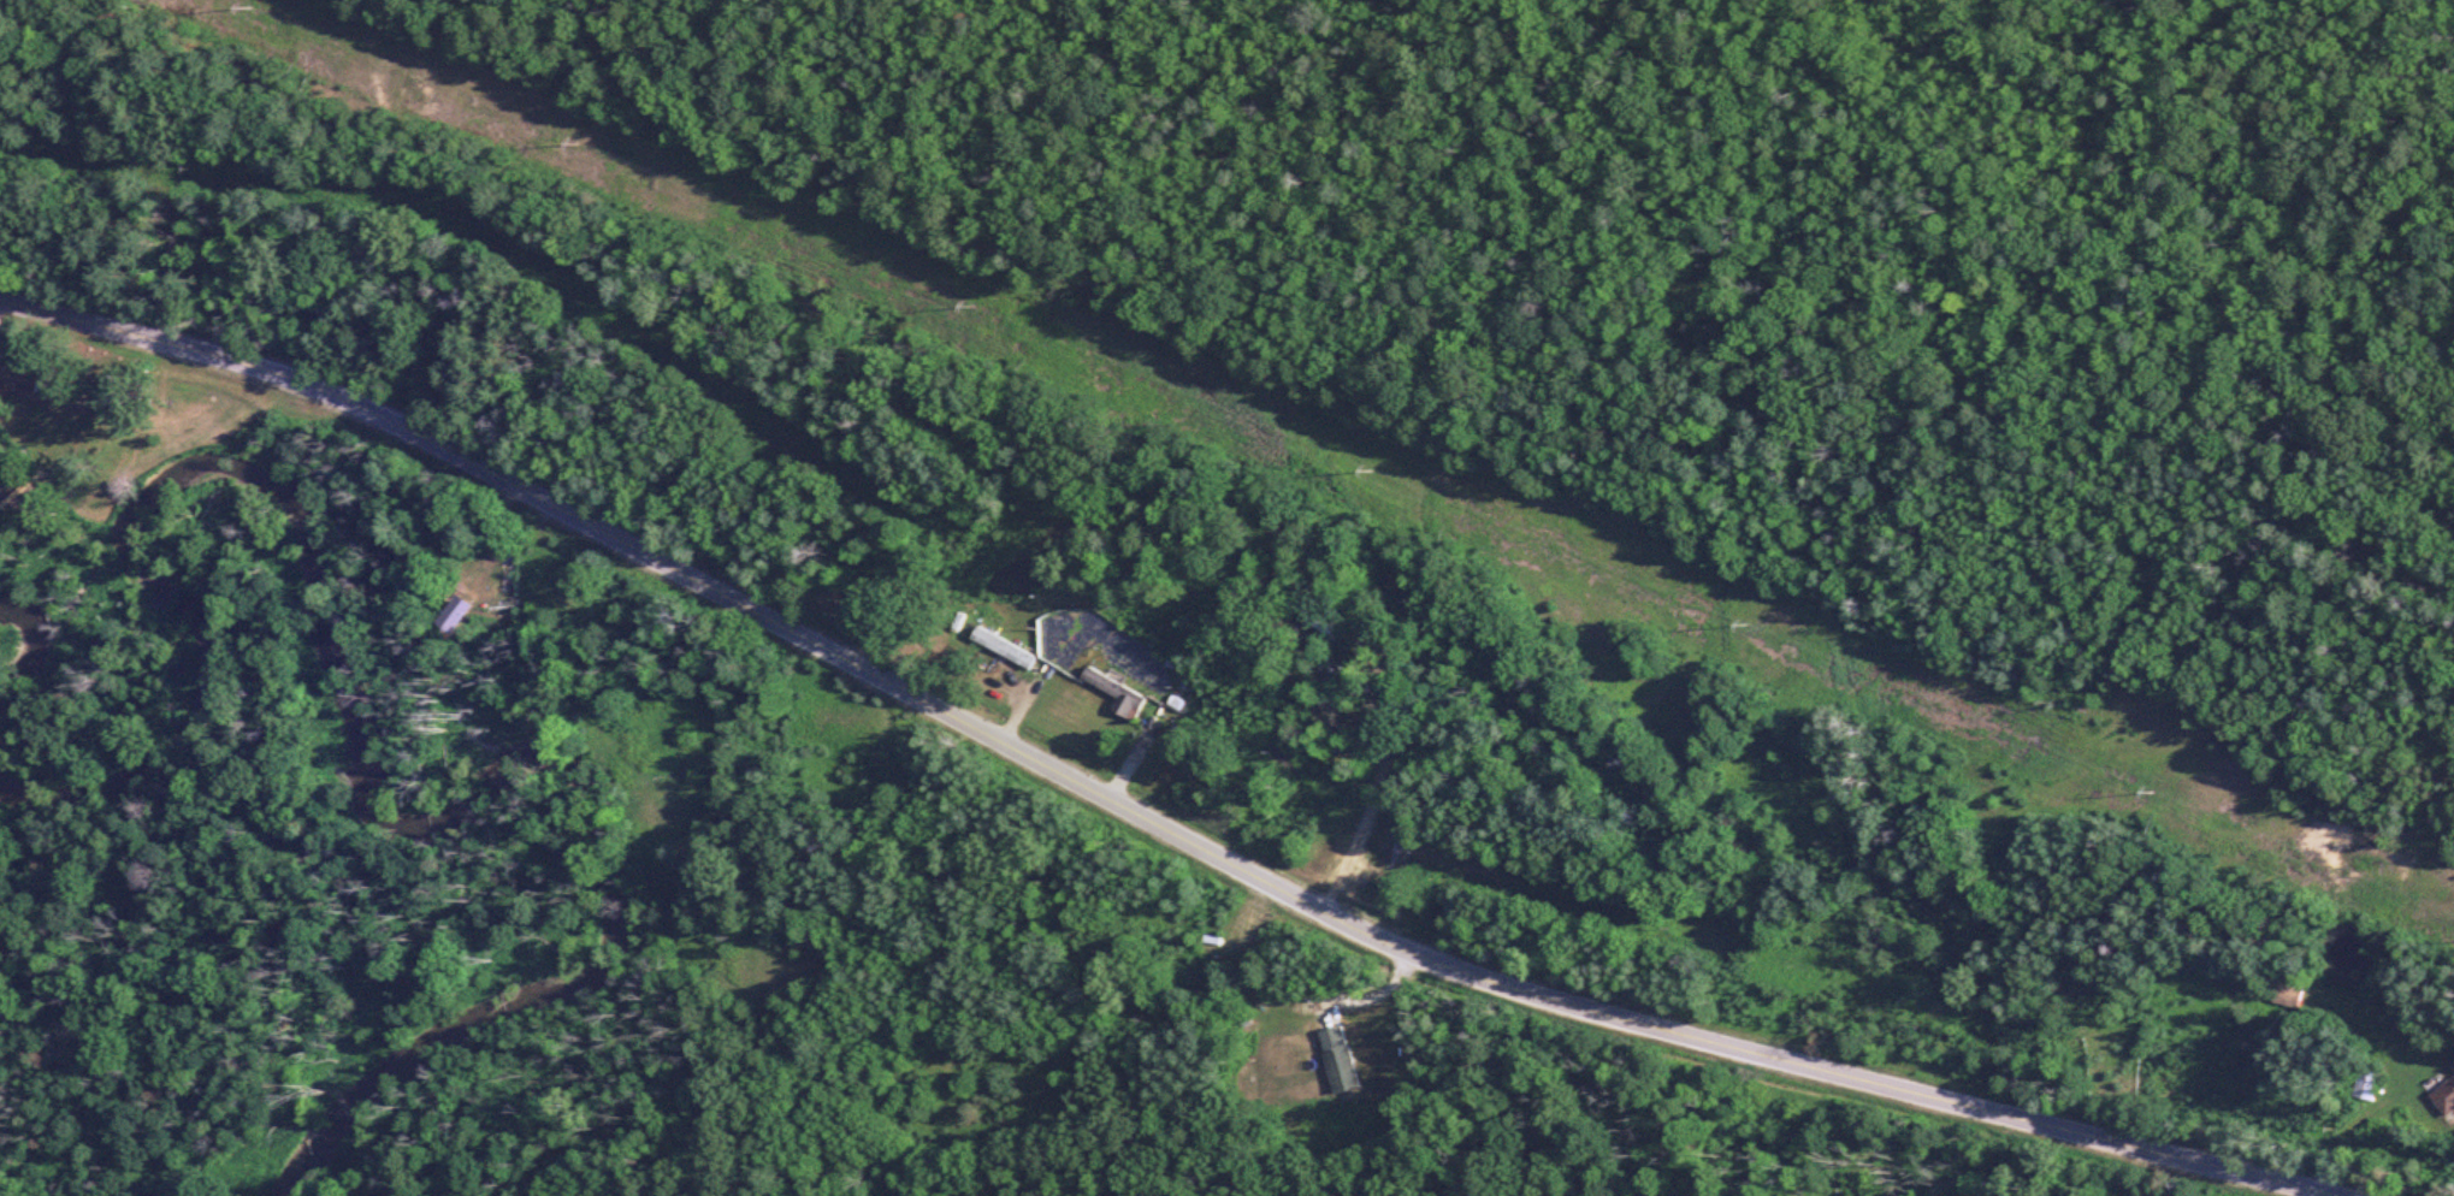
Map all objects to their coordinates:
building: (16, 374)
river: (30, 639)
building: (1113, 694)
river: (357, 739)
road: (1134, 818)
building: (2286, 989)
building: (1331, 1047)
building: (2366, 1087)
building: (2443, 1095)

